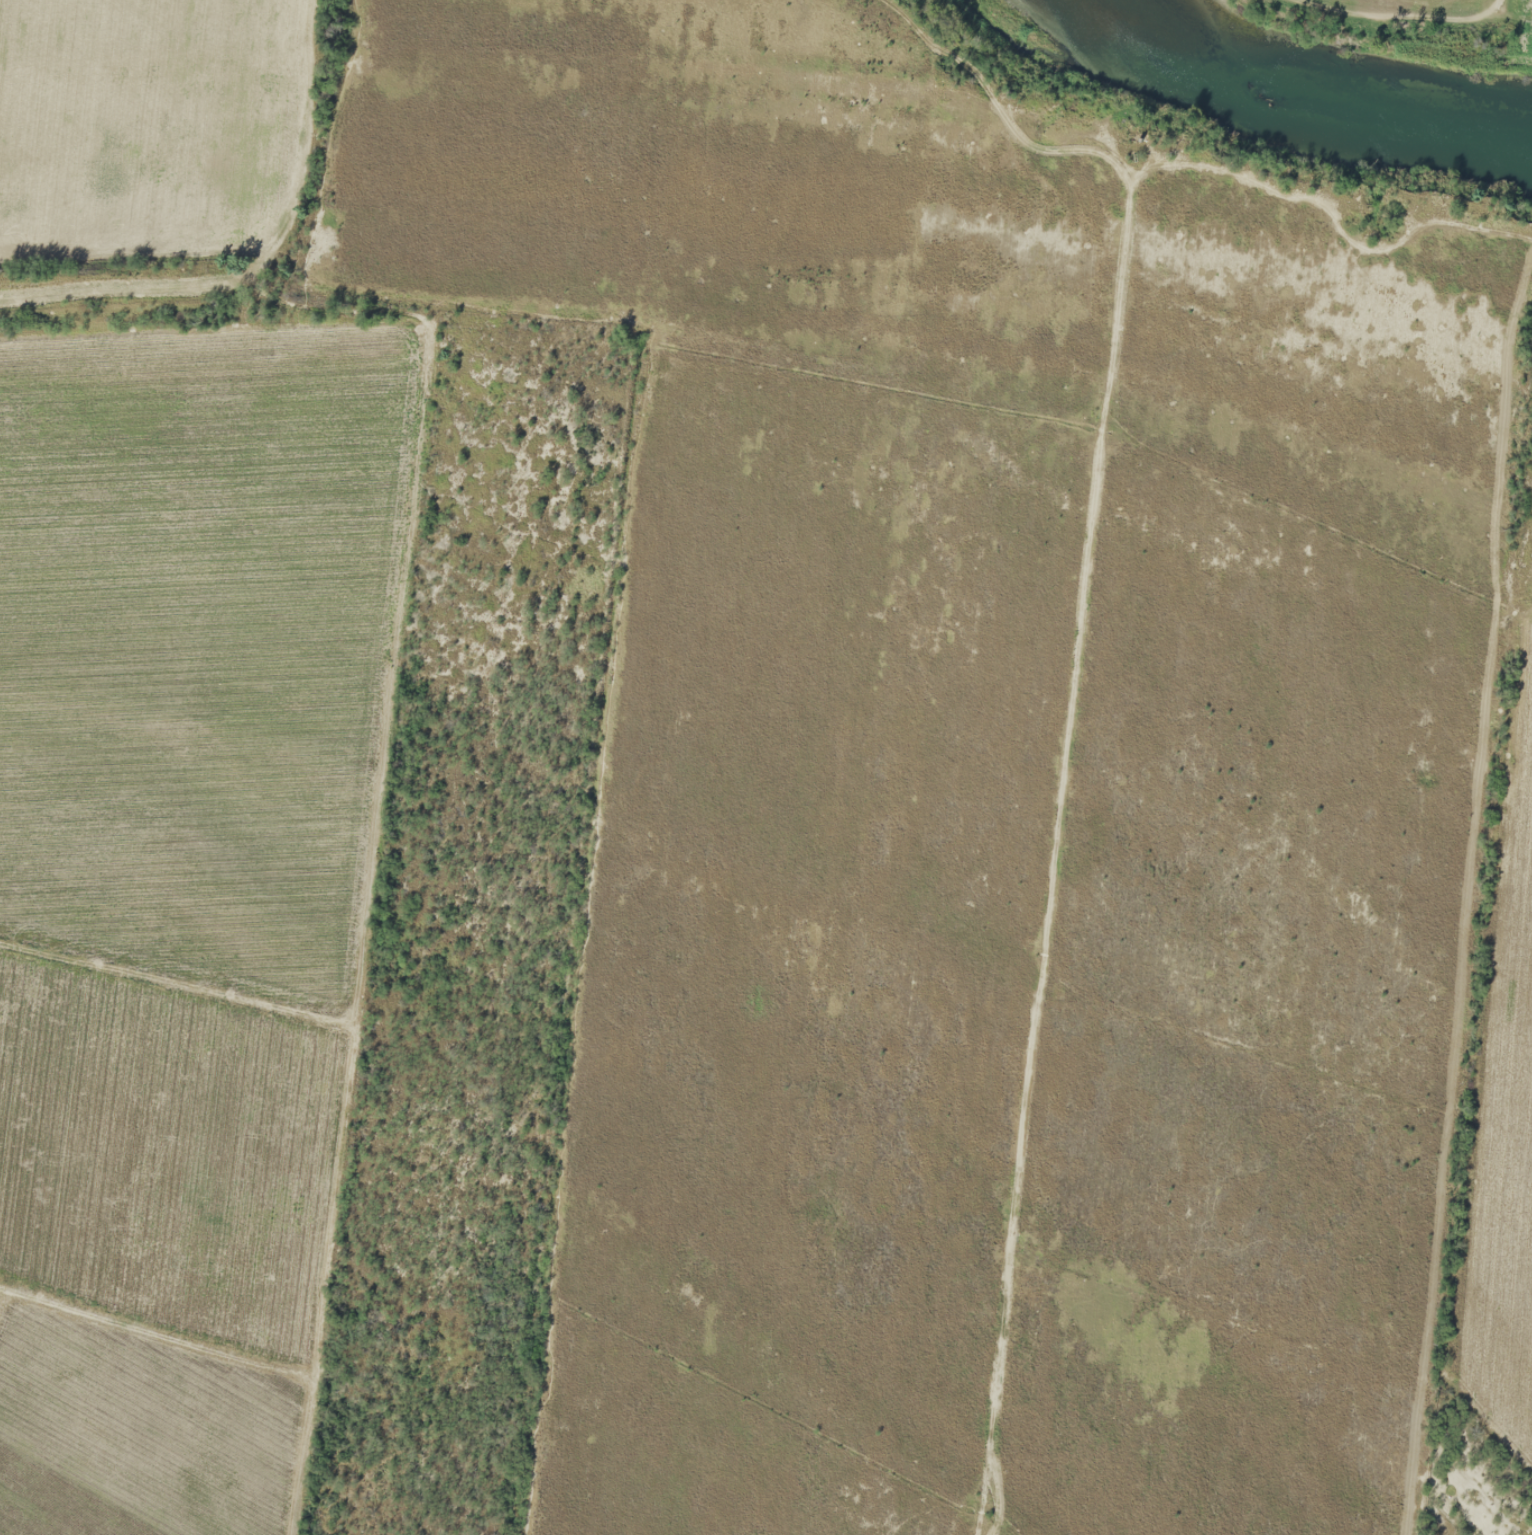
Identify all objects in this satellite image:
river: (1258, 80)
river: (1484, 112)

